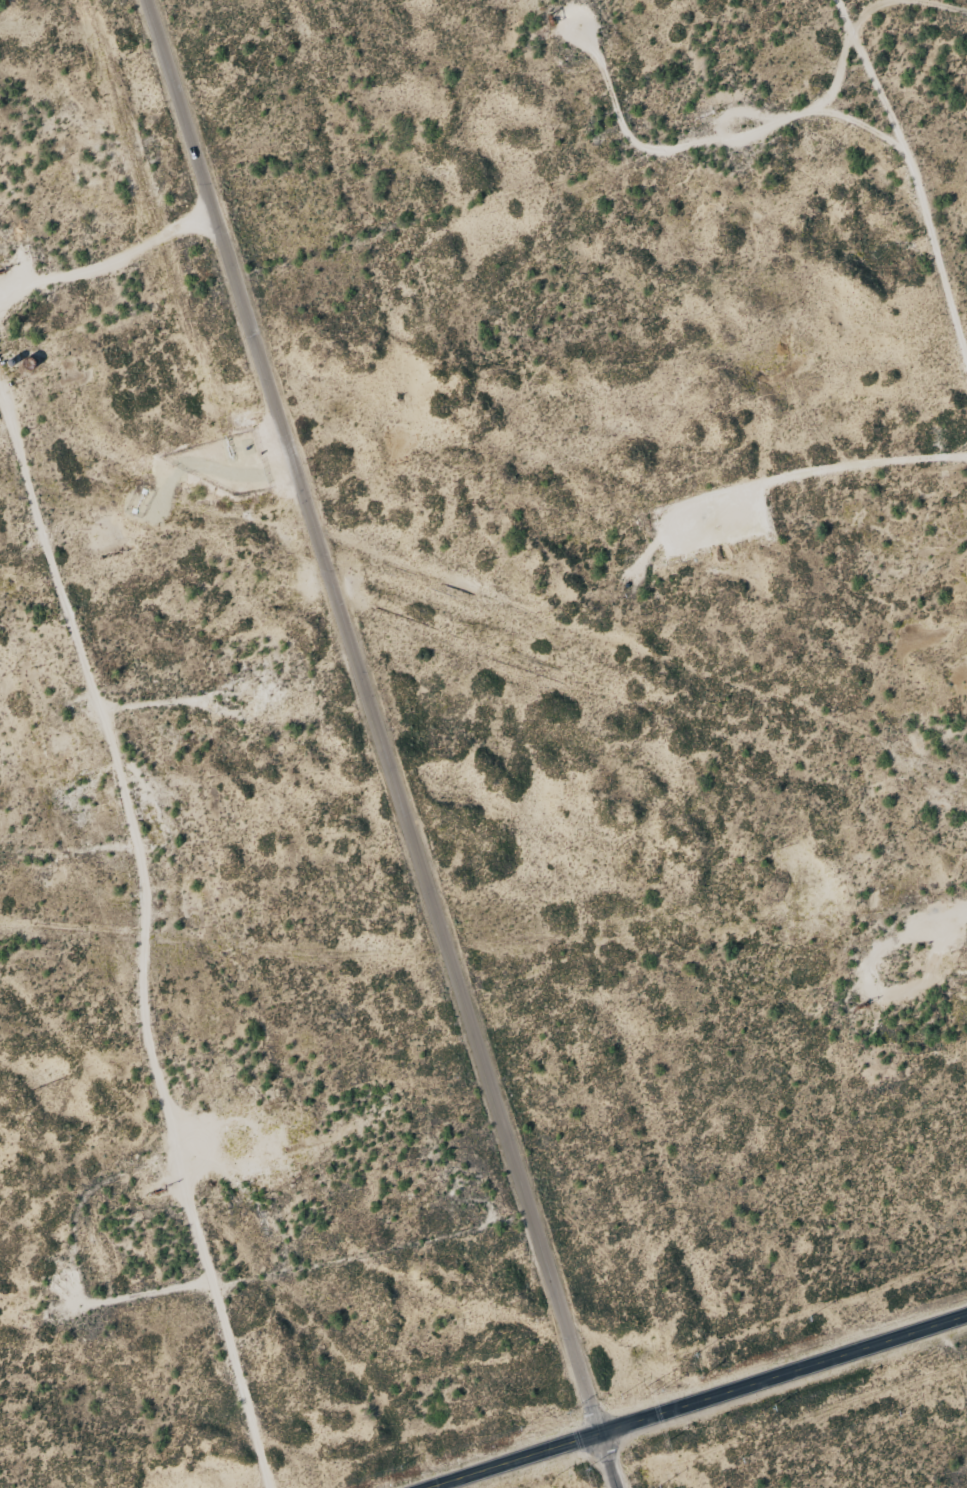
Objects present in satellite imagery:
road: (916, 32)
road: (904, 203)
road: (771, 475)
road: (379, 739)
road: (154, 920)
road: (691, 1400)

